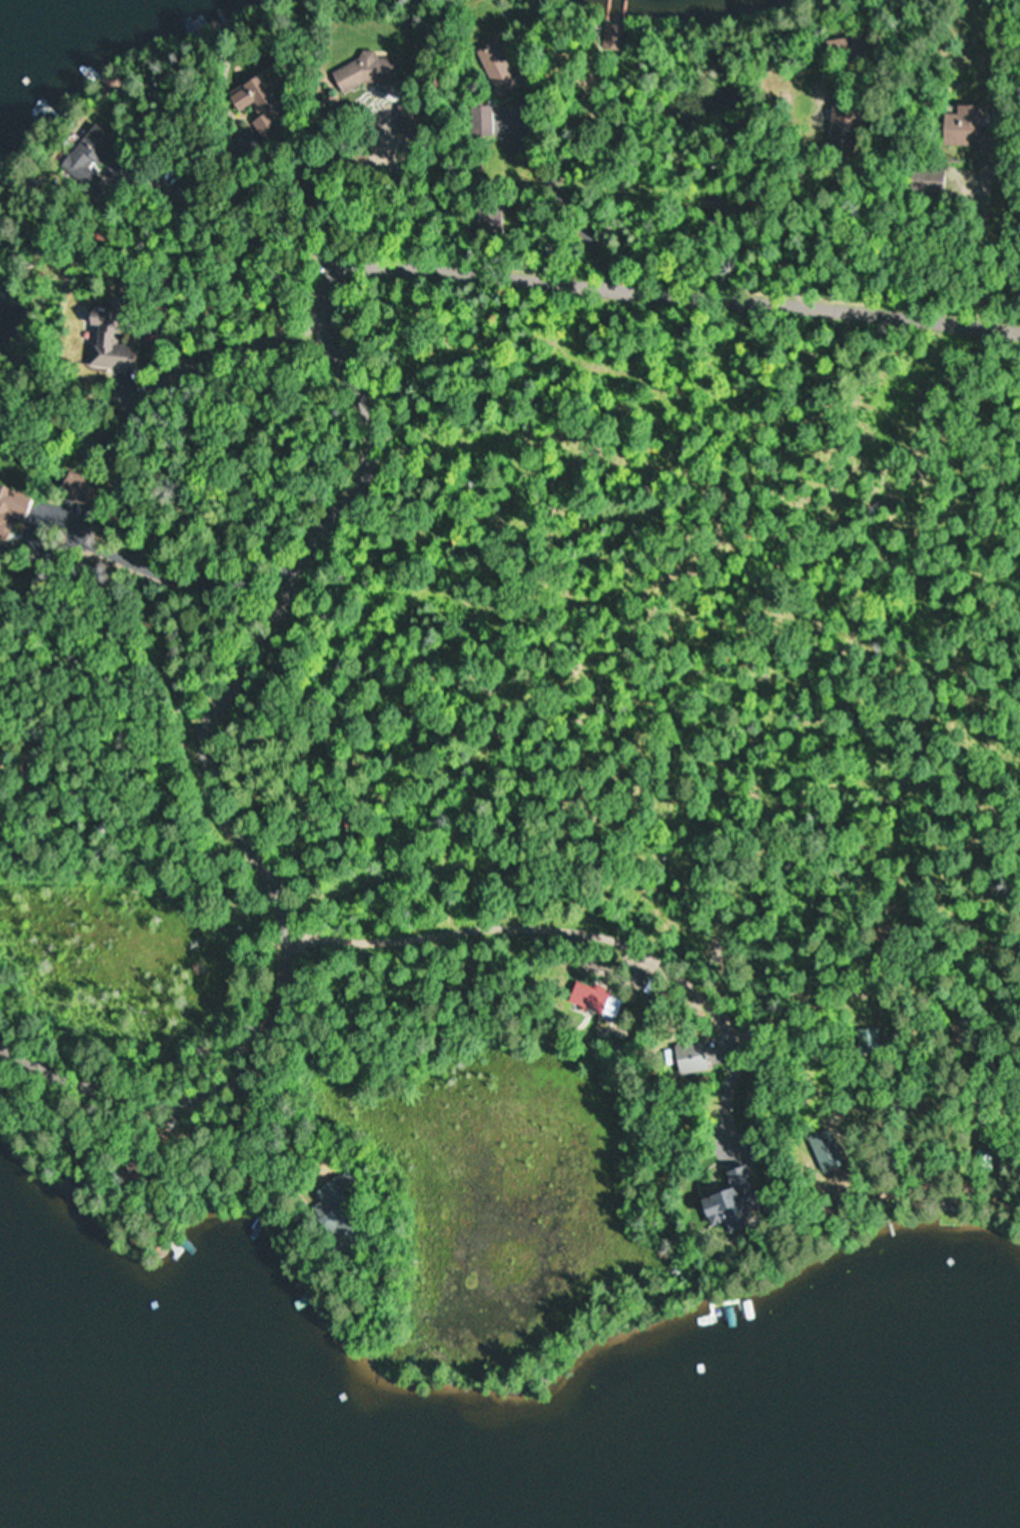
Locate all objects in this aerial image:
building: (613, 37)
building: (357, 72)
building: (498, 72)
building: (261, 104)
building: (480, 121)
building: (962, 127)
building: (838, 135)
building: (923, 179)
building: (108, 342)
road: (114, 417)
road: (567, 933)
building: (588, 999)
building: (686, 1057)
road: (901, 1086)
building: (982, 1158)
building: (723, 1207)
building: (333, 1214)

